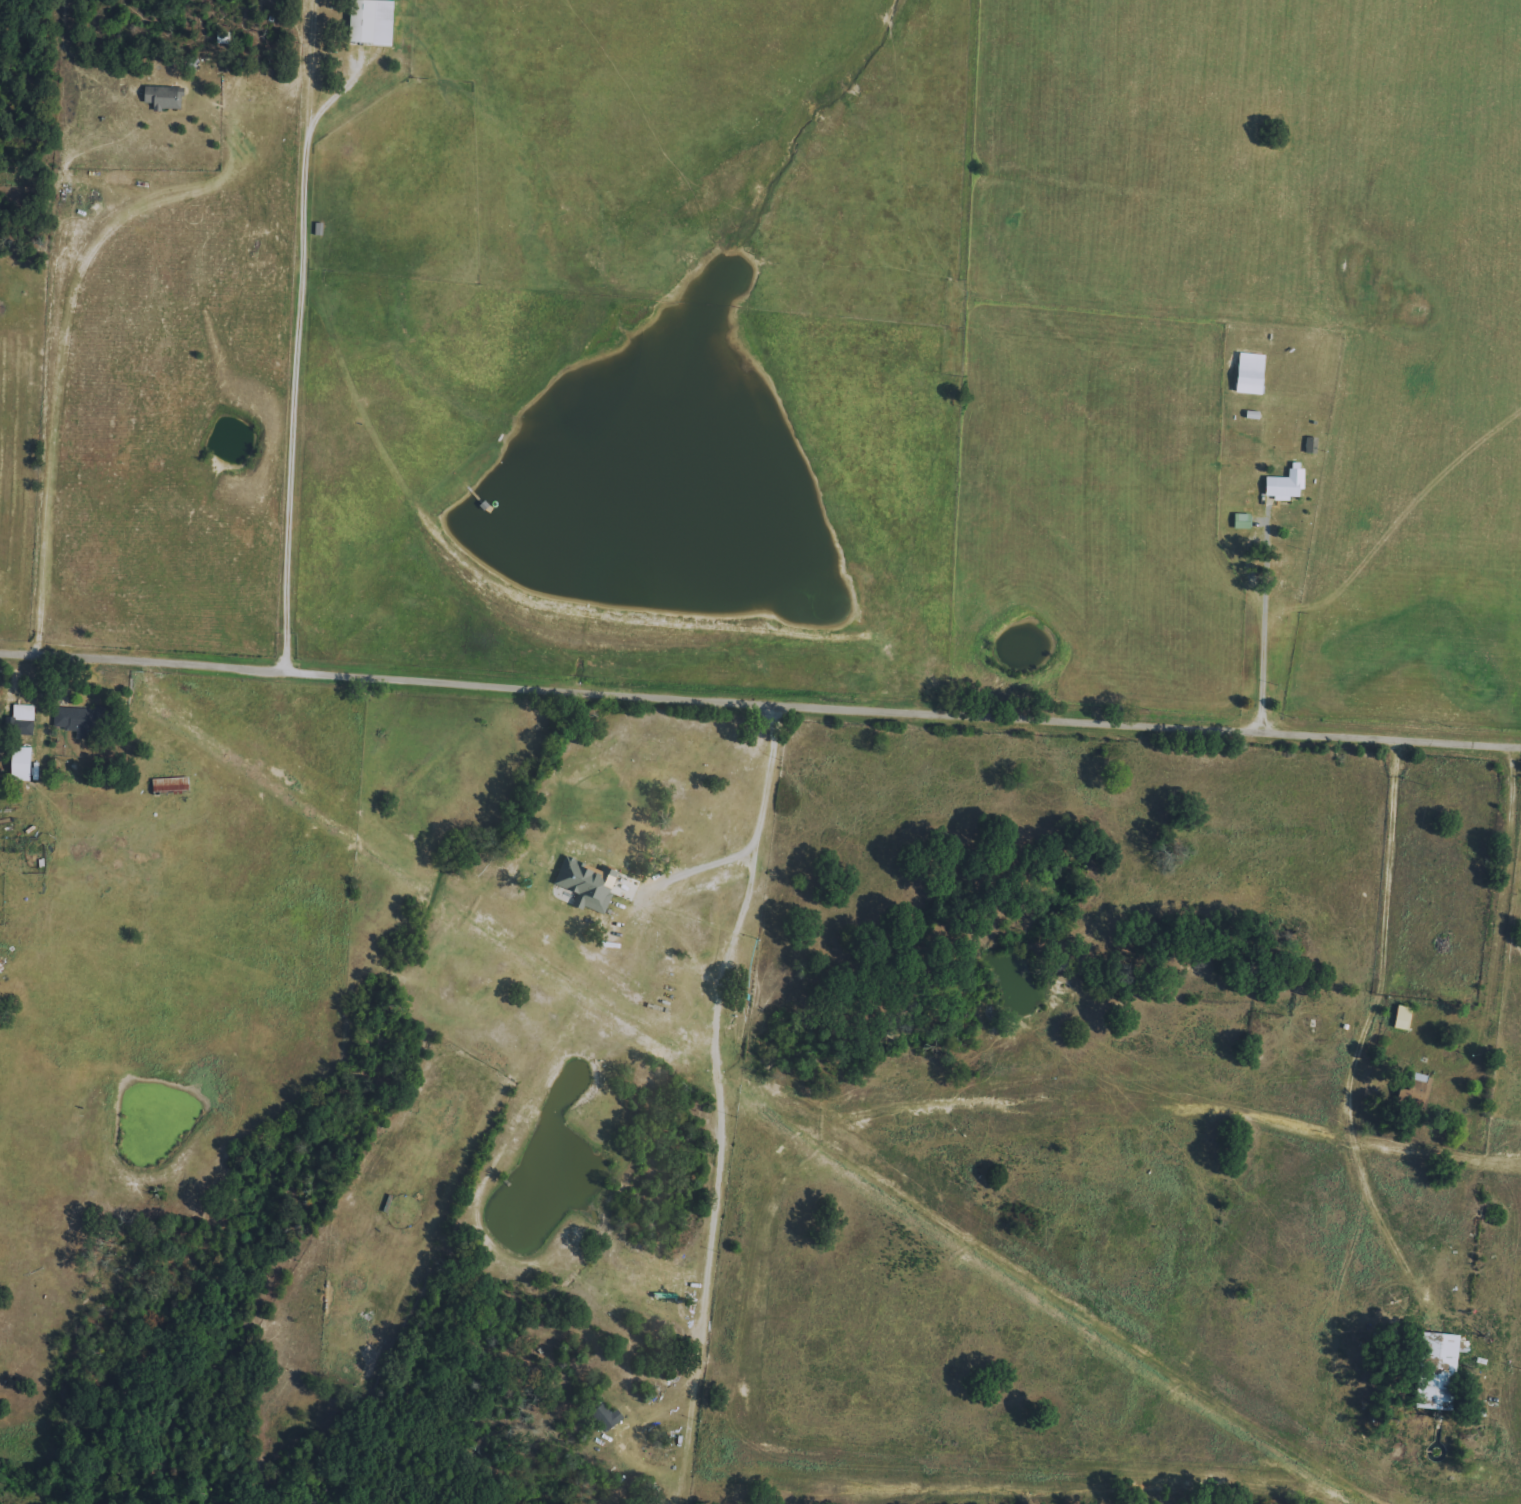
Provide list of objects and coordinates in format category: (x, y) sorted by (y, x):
building: (372, 22)
building: (165, 98)
road: (80, 339)
road: (304, 340)
building: (1251, 373)
building: (1287, 482)
building: (1243, 520)
road: (1264, 632)
road: (760, 704)
building: (76, 721)
building: (21, 763)
building: (170, 784)
road: (699, 869)
building: (588, 884)
building: (1403, 1017)
road: (1369, 1036)
road: (724, 1102)
building: (1439, 1372)
building: (606, 1417)

